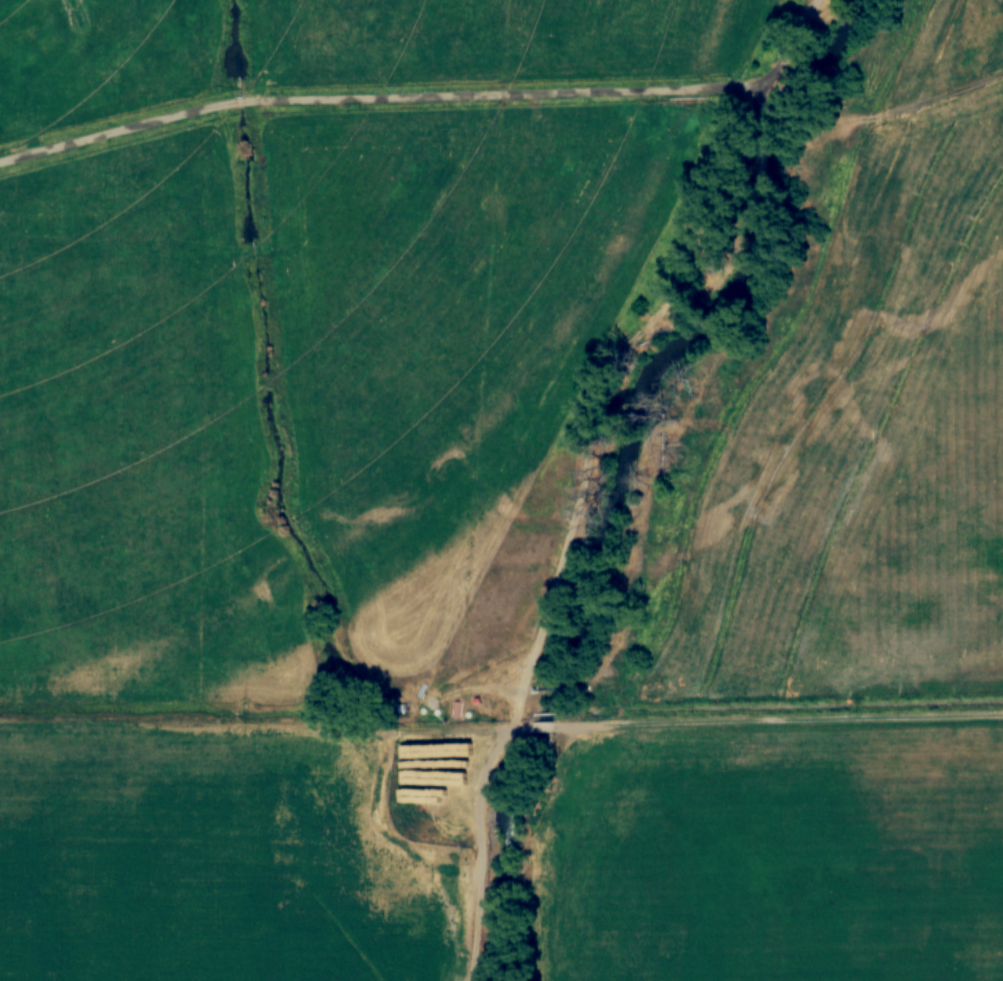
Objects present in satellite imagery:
road: (430, 97)
road: (933, 100)
river: (619, 471)
building: (423, 809)

